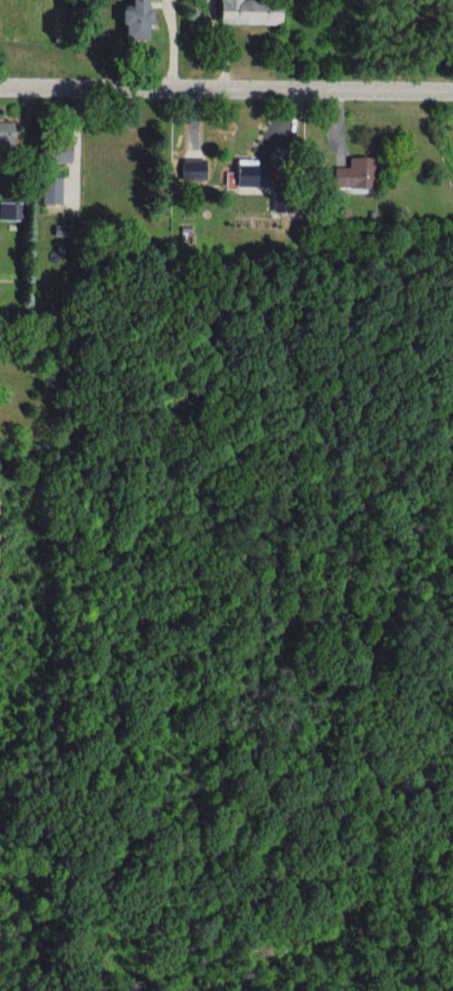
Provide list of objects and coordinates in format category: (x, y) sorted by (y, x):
building: (244, 11)
building: (131, 20)
road: (172, 45)
road: (221, 45)
road: (226, 92)
building: (1, 136)
building: (56, 151)
building: (192, 169)
building: (247, 173)
building: (354, 175)
building: (49, 190)

